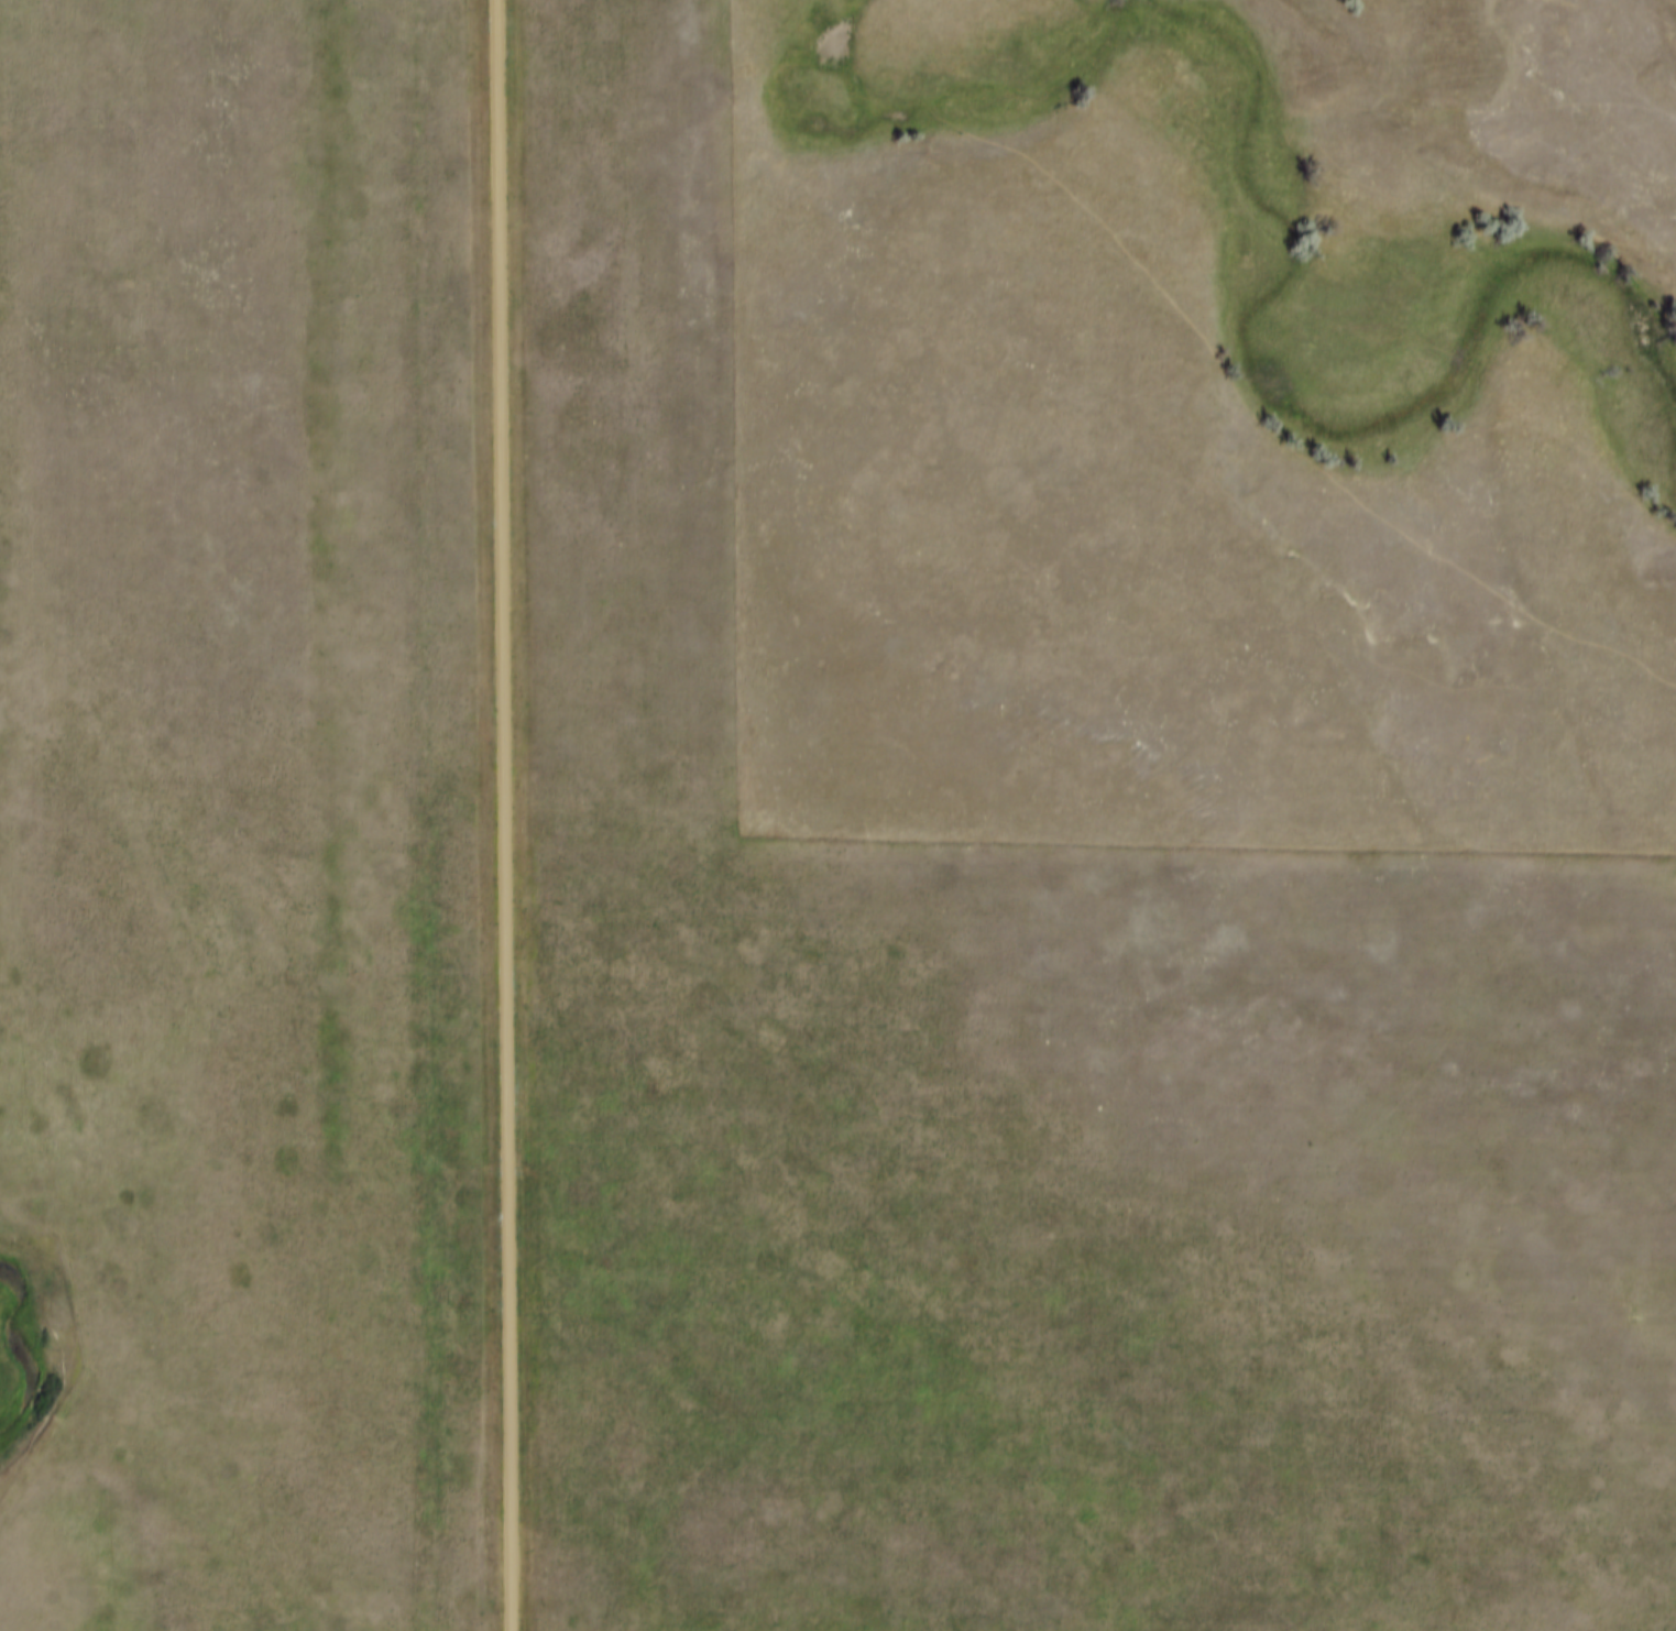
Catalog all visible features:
road: (510, 814)

